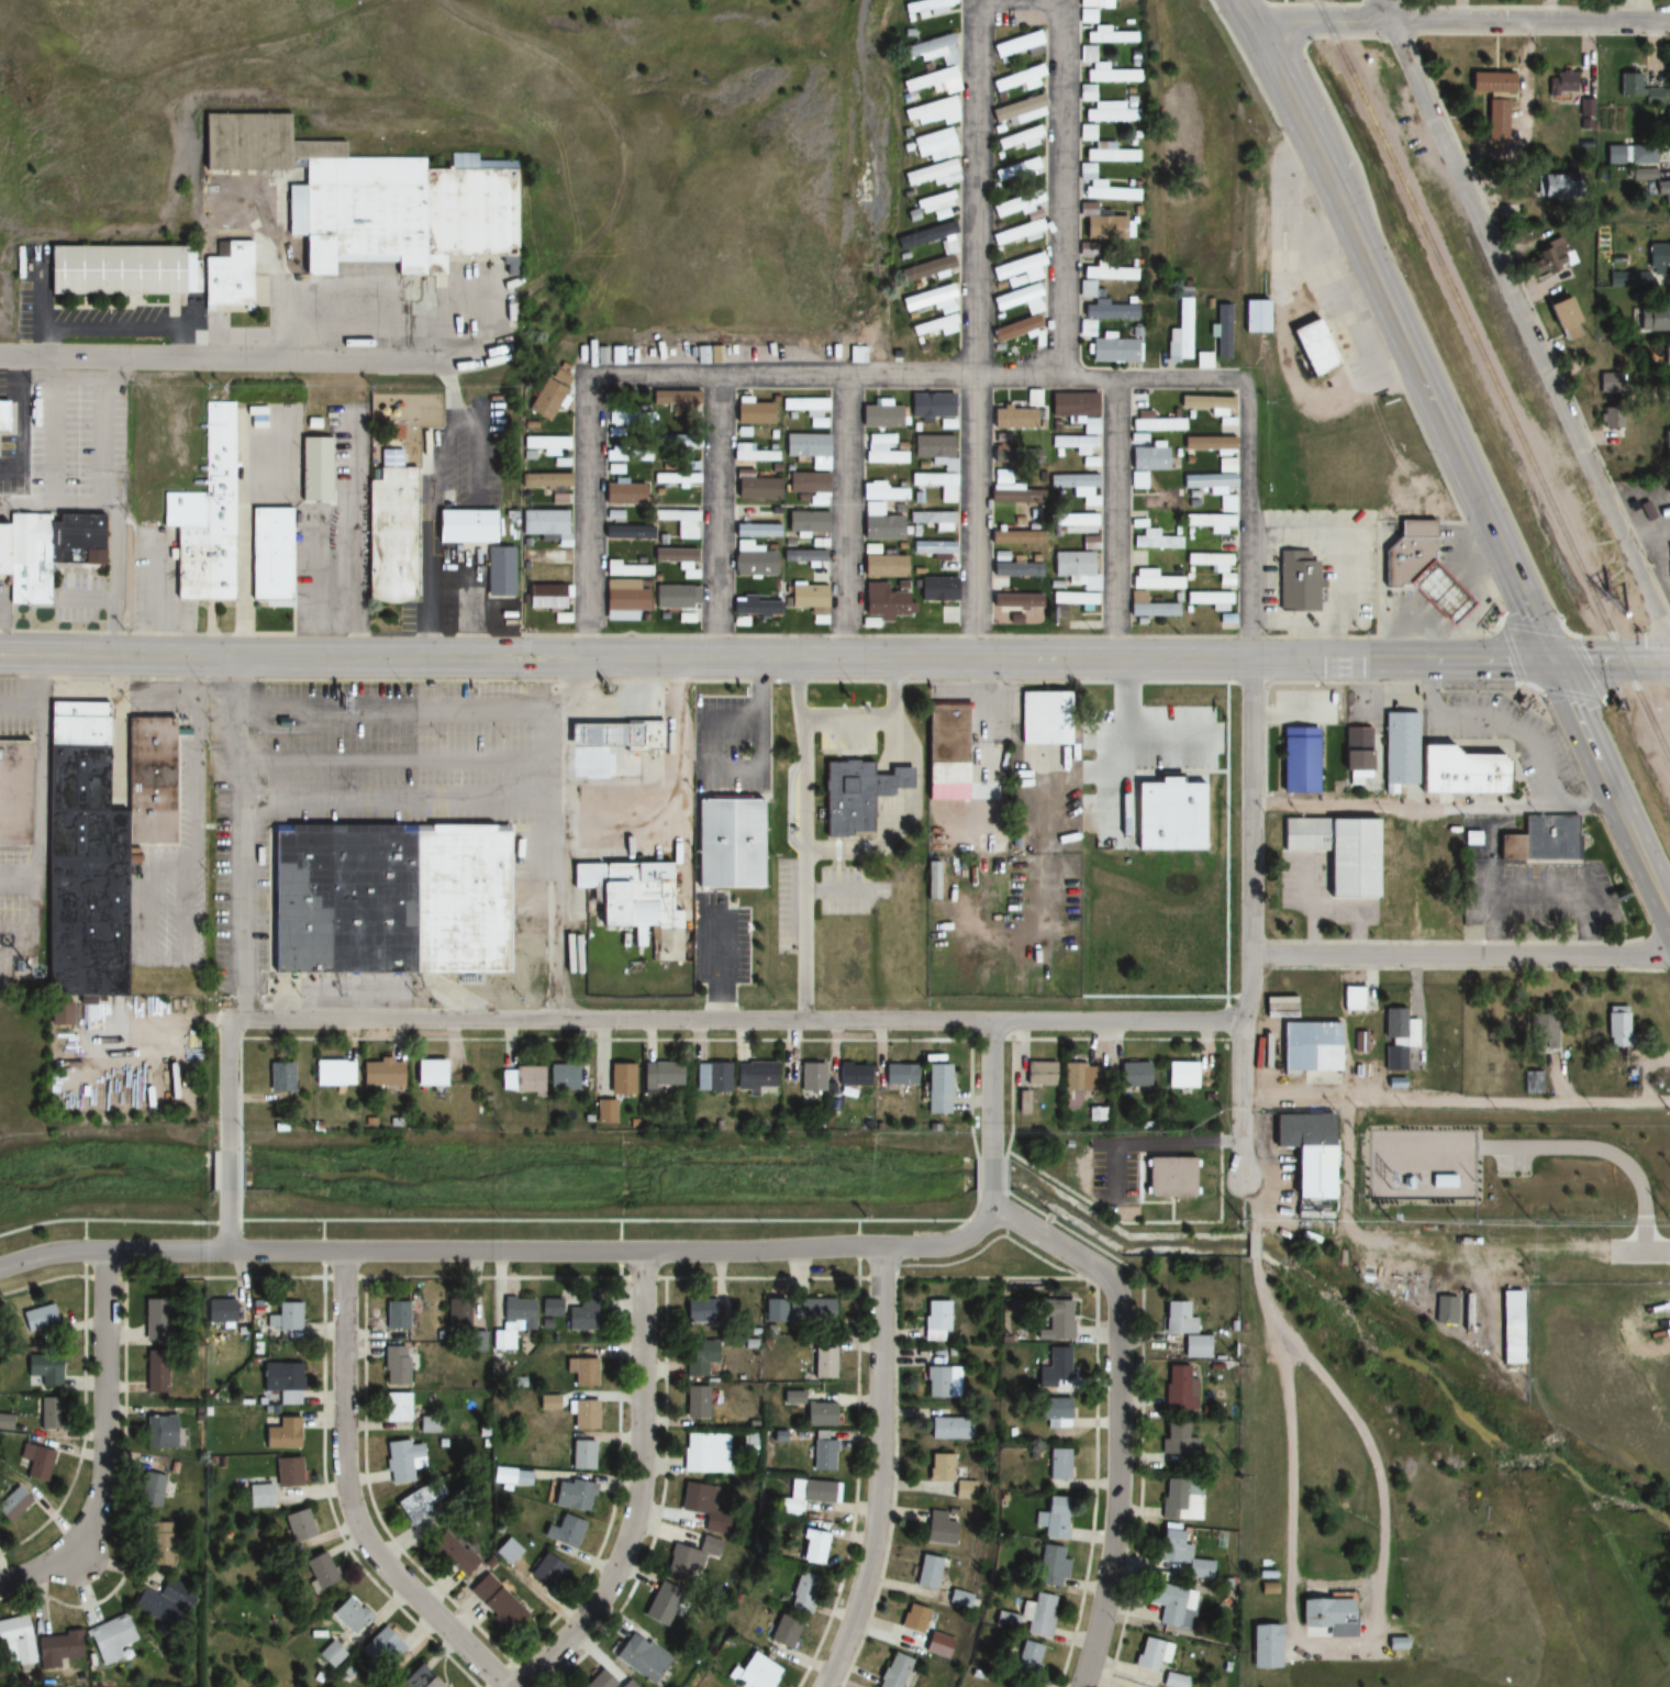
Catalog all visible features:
road: (1312, 2)
building: (926, 8)
building: (1091, 9)
road: (1461, 21)
road: (1285, 27)
building: (1104, 35)
building: (1015, 44)
building: (931, 49)
building: (1016, 78)
building: (931, 80)
building: (1561, 84)
building: (1643, 89)
building: (1492, 101)
building: (932, 111)
building: (1020, 111)
building: (1666, 127)
building: (1085, 131)
building: (1017, 138)
building: (933, 144)
building: (1629, 154)
building: (1015, 169)
building: (932, 174)
building: (1558, 186)
road: (1060, 188)
building: (1662, 192)
building: (372, 198)
building: (1017, 202)
building: (932, 206)
building: (1100, 224)
building: (1018, 232)
building: (924, 235)
building: (947, 247)
building: (1554, 254)
building: (1658, 262)
building: (1017, 267)
building: (925, 269)
building: (153, 271)
building: (1627, 278)
building: (925, 298)
building: (1017, 300)
building: (1106, 309)
building: (1254, 317)
building: (1560, 317)
road: (1523, 319)
building: (1652, 321)
building: (933, 325)
road: (977, 326)
building: (1013, 329)
road: (1399, 329)
road: (1423, 331)
building: (1222, 332)
building: (1180, 333)
building: (1311, 348)
building: (1112, 351)
building: (856, 355)
building: (1666, 358)
road: (250, 360)
building: (1202, 360)
railway: (1494, 380)
road: (918, 381)
building: (1608, 382)
building: (673, 397)
building: (544, 399)
building: (1205, 403)
building: (929, 406)
building: (1072, 407)
building: (803, 408)
building: (1014, 412)
building: (753, 413)
building: (879, 417)
building: (1, 418)
building: (1612, 418)
building: (1149, 420)
building: (621, 431)
building: (544, 444)
building: (679, 444)
building: (1073, 444)
building: (1206, 444)
building: (932, 447)
building: (1666, 447)
building: (808, 448)
building: (1010, 452)
building: (751, 454)
building: (881, 456)
building: (1145, 464)
building: (1225, 465)
building: (613, 468)
building: (1622, 468)
building: (318, 470)
building: (691, 474)
building: (660, 477)
building: (544, 479)
building: (806, 482)
building: (936, 485)
building: (1073, 485)
building: (1213, 488)
building: (756, 489)
building: (622, 493)
building: (1012, 495)
building: (557, 499)
building: (1160, 502)
building: (880, 513)
road: (588, 517)
building: (1033, 517)
road: (717, 518)
road: (840, 519)
building: (933, 520)
road: (1112, 520)
building: (208, 521)
building: (679, 521)
building: (805, 521)
building: (544, 522)
building: (1210, 522)
building: (756, 523)
building: (1072, 523)
building: (464, 526)
building: (624, 528)
building: (392, 531)
building: (1014, 537)
building: (1156, 542)
building: (1089, 543)
building: (44, 550)
building: (932, 551)
building: (274, 554)
building: (544, 556)
building: (804, 558)
building: (1207, 558)
building: (678, 561)
building: (751, 562)
building: (883, 566)
building: (1414, 567)
building: (625, 568)
building: (1016, 569)
building: (1073, 569)
building: (497, 571)
building: (1151, 580)
building: (1225, 581)
building: (1295, 581)
building: (936, 589)
building: (543, 595)
building: (675, 596)
building: (806, 598)
building: (1079, 599)
building: (623, 600)
building: (1209, 600)
building: (1655, 601)
building: (882, 602)
building: (1011, 603)
building: (757, 604)
building: (1149, 609)
road: (1533, 626)
road: (1103, 635)
road: (1512, 651)
road: (525, 655)
road: (835, 655)
traffic signals: (1556, 662)
road: (840, 679)
road: (1401, 680)
road: (1601, 696)
building: (1087, 706)
road: (1494, 712)
building: (1040, 717)
building: (595, 736)
gas station: (595, 736)
building: (644, 736)
building: (947, 743)
building: (1398, 750)
building: (1296, 761)
building: (1467, 769)
building: (889, 783)
road: (1251, 783)
road: (1610, 785)
building: (15, 793)
building: (846, 799)
road: (1433, 803)
building: (104, 834)
building: (1539, 840)
building: (728, 844)
building: (1338, 853)
building: (932, 885)
building: (390, 899)
building: (632, 902)
road: (1461, 953)
building: (1351, 998)
road: (737, 1019)
building: (1393, 1023)
building: (1616, 1026)
building: (1538, 1031)
building: (1309, 1046)
building: (1393, 1057)
building: (329, 1072)
building: (425, 1072)
building: (379, 1073)
building: (1037, 1073)
building: (278, 1074)
building: (851, 1074)
building: (1179, 1074)
building: (657, 1075)
building: (710, 1075)
building: (753, 1075)
building: (898, 1075)
building: (1132, 1075)
building: (560, 1076)
building: (810, 1076)
building: (1533, 1077)
building: (525, 1078)
building: (619, 1078)
building: (1079, 1081)
road: (229, 1083)
building: (935, 1087)
road: (991, 1087)
road: (1456, 1103)
building: (1482, 1128)
building: (1304, 1150)
building: (1391, 1151)
road: (227, 1170)
road: (991, 1174)
building: (1166, 1176)
road: (991, 1205)
road: (1251, 1206)
road: (227, 1222)
road: (1255, 1247)
road: (568, 1252)
road: (1263, 1296)
building: (548, 1307)
building: (1444, 1309)
building: (809, 1310)
building: (698, 1311)
building: (218, 1312)
building: (1465, 1312)
building: (394, 1313)
building: (460, 1313)
building: (580, 1314)
building: (287, 1317)
building: (37, 1318)
building: (153, 1319)
building: (1051, 1319)
building: (935, 1320)
building: (513, 1321)
building: (1510, 1327)
building: (1182, 1329)
building: (0, 1340)
building: (822, 1362)
building: (695, 1363)
building: (1056, 1363)
building: (393, 1364)
building: (43, 1370)
building: (154, 1370)
building: (580, 1370)
building: (281, 1381)
building: (942, 1381)
building: (1178, 1388)
building: (694, 1401)
building: (394, 1407)
building: (1053, 1412)
building: (49, 1413)
building: (582, 1413)
building: (819, 1413)
building: (426, 1424)
building: (949, 1428)
building: (158, 1431)
building: (280, 1433)
building: (1176, 1439)
road: (104, 1447)
building: (705, 1453)
building: (580, 1454)
building: (822, 1454)
building: (401, 1460)
building: (35, 1463)
building: (1056, 1464)
building: (287, 1472)
road: (881, 1472)
building: (948, 1475)
building: (511, 1476)
road: (1115, 1484)
building: (151, 1489)
road: (641, 1489)
road: (1292, 1489)
building: (571, 1494)
building: (258, 1496)
building: (804, 1496)
building: (697, 1498)
building: (1179, 1498)
road: (350, 1499)
building: (421, 1501)
building: (12, 1502)
road: (1383, 1510)
building: (1053, 1517)
building: (297, 1524)
building: (938, 1529)
building: (564, 1531)
building: (157, 1543)
building: (810, 1546)
building: (506, 1551)
building: (450, 1554)
building: (1178, 1555)
building: (691, 1558)
building: (1049, 1564)
building: (316, 1571)
building: (545, 1571)
building: (926, 1572)
building: (802, 1591)
building: (960, 1598)
building: (494, 1602)
building: (663, 1602)
building: (164, 1603)
building: (1172, 1605)
building: (349, 1614)
building: (1038, 1614)
building: (1327, 1614)
building: (1003, 1621)
building: (909, 1628)
building: (782, 1631)
building: (16, 1639)
building: (110, 1640)
building: (1263, 1646)
building: (381, 1649)
building: (60, 1651)
building: (1150, 1654)
building: (641, 1657)
building: (1025, 1664)
building: (893, 1671)
building: (754, 1672)
building: (416, 1678)
building: (1174, 1679)
building: (600, 1680)
building: (626, 1684)

